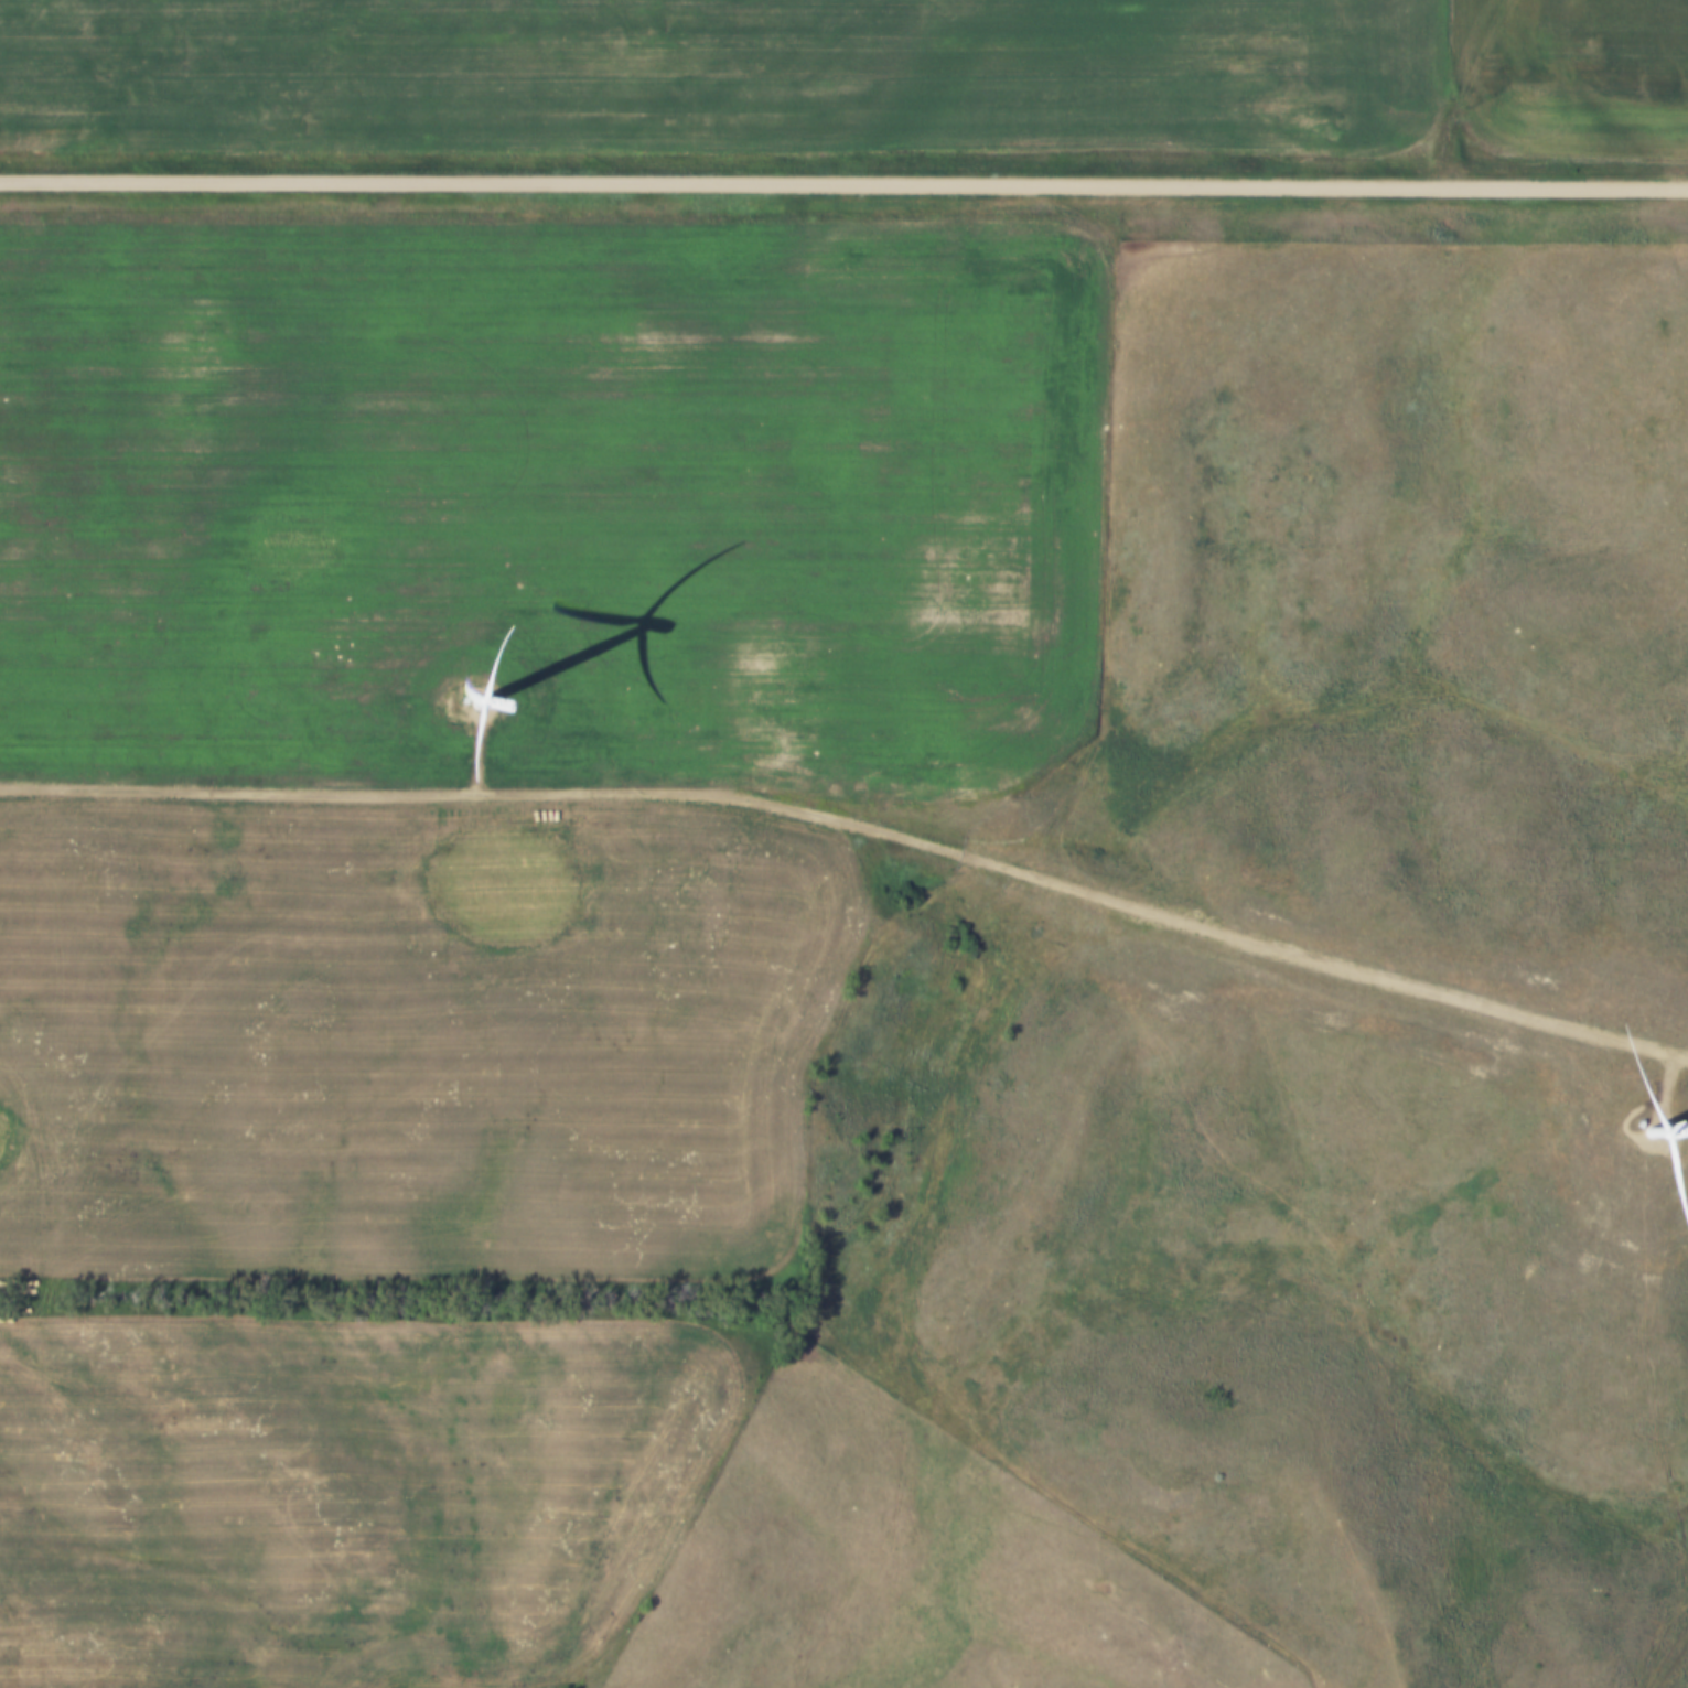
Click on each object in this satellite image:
road: (843, 178)
wind turbine: (479, 706)
wind turbine: (1648, 1133)

